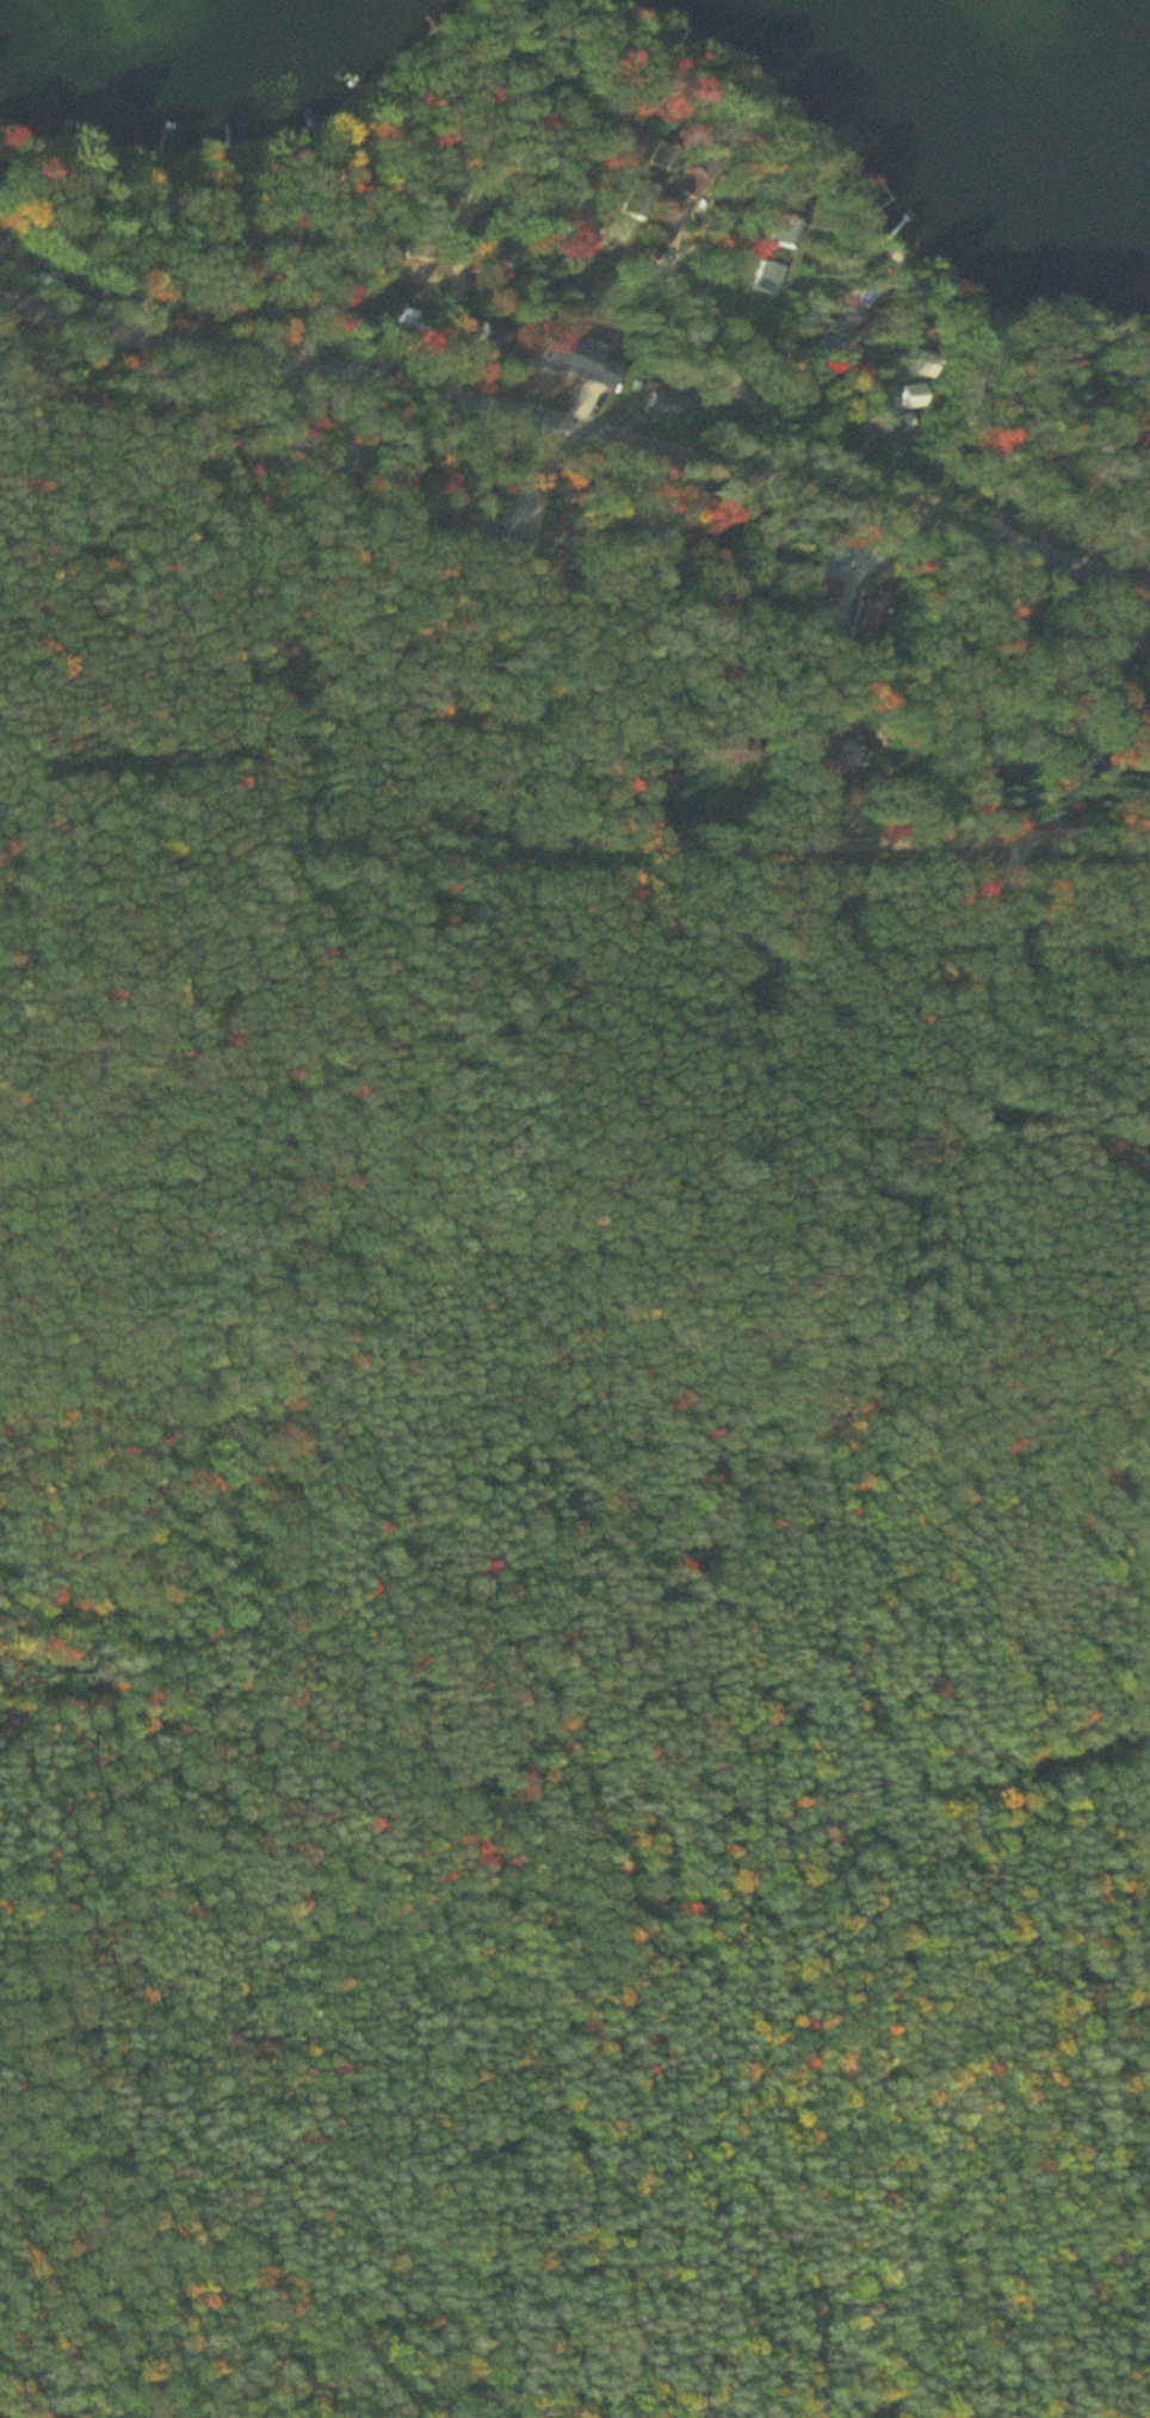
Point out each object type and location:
road: (477, 89)
building: (601, 119)
building: (635, 146)
building: (647, 202)
building: (673, 227)
building: (790, 233)
building: (252, 237)
building: (419, 245)
building: (509, 254)
road: (459, 277)
building: (772, 278)
road: (7, 302)
building: (415, 323)
building: (497, 336)
road: (738, 357)
building: (928, 365)
building: (917, 398)
building: (667, 404)
road: (579, 408)
road: (270, 614)
building: (851, 750)
building: (816, 752)
building: (1098, 769)
road: (787, 822)

